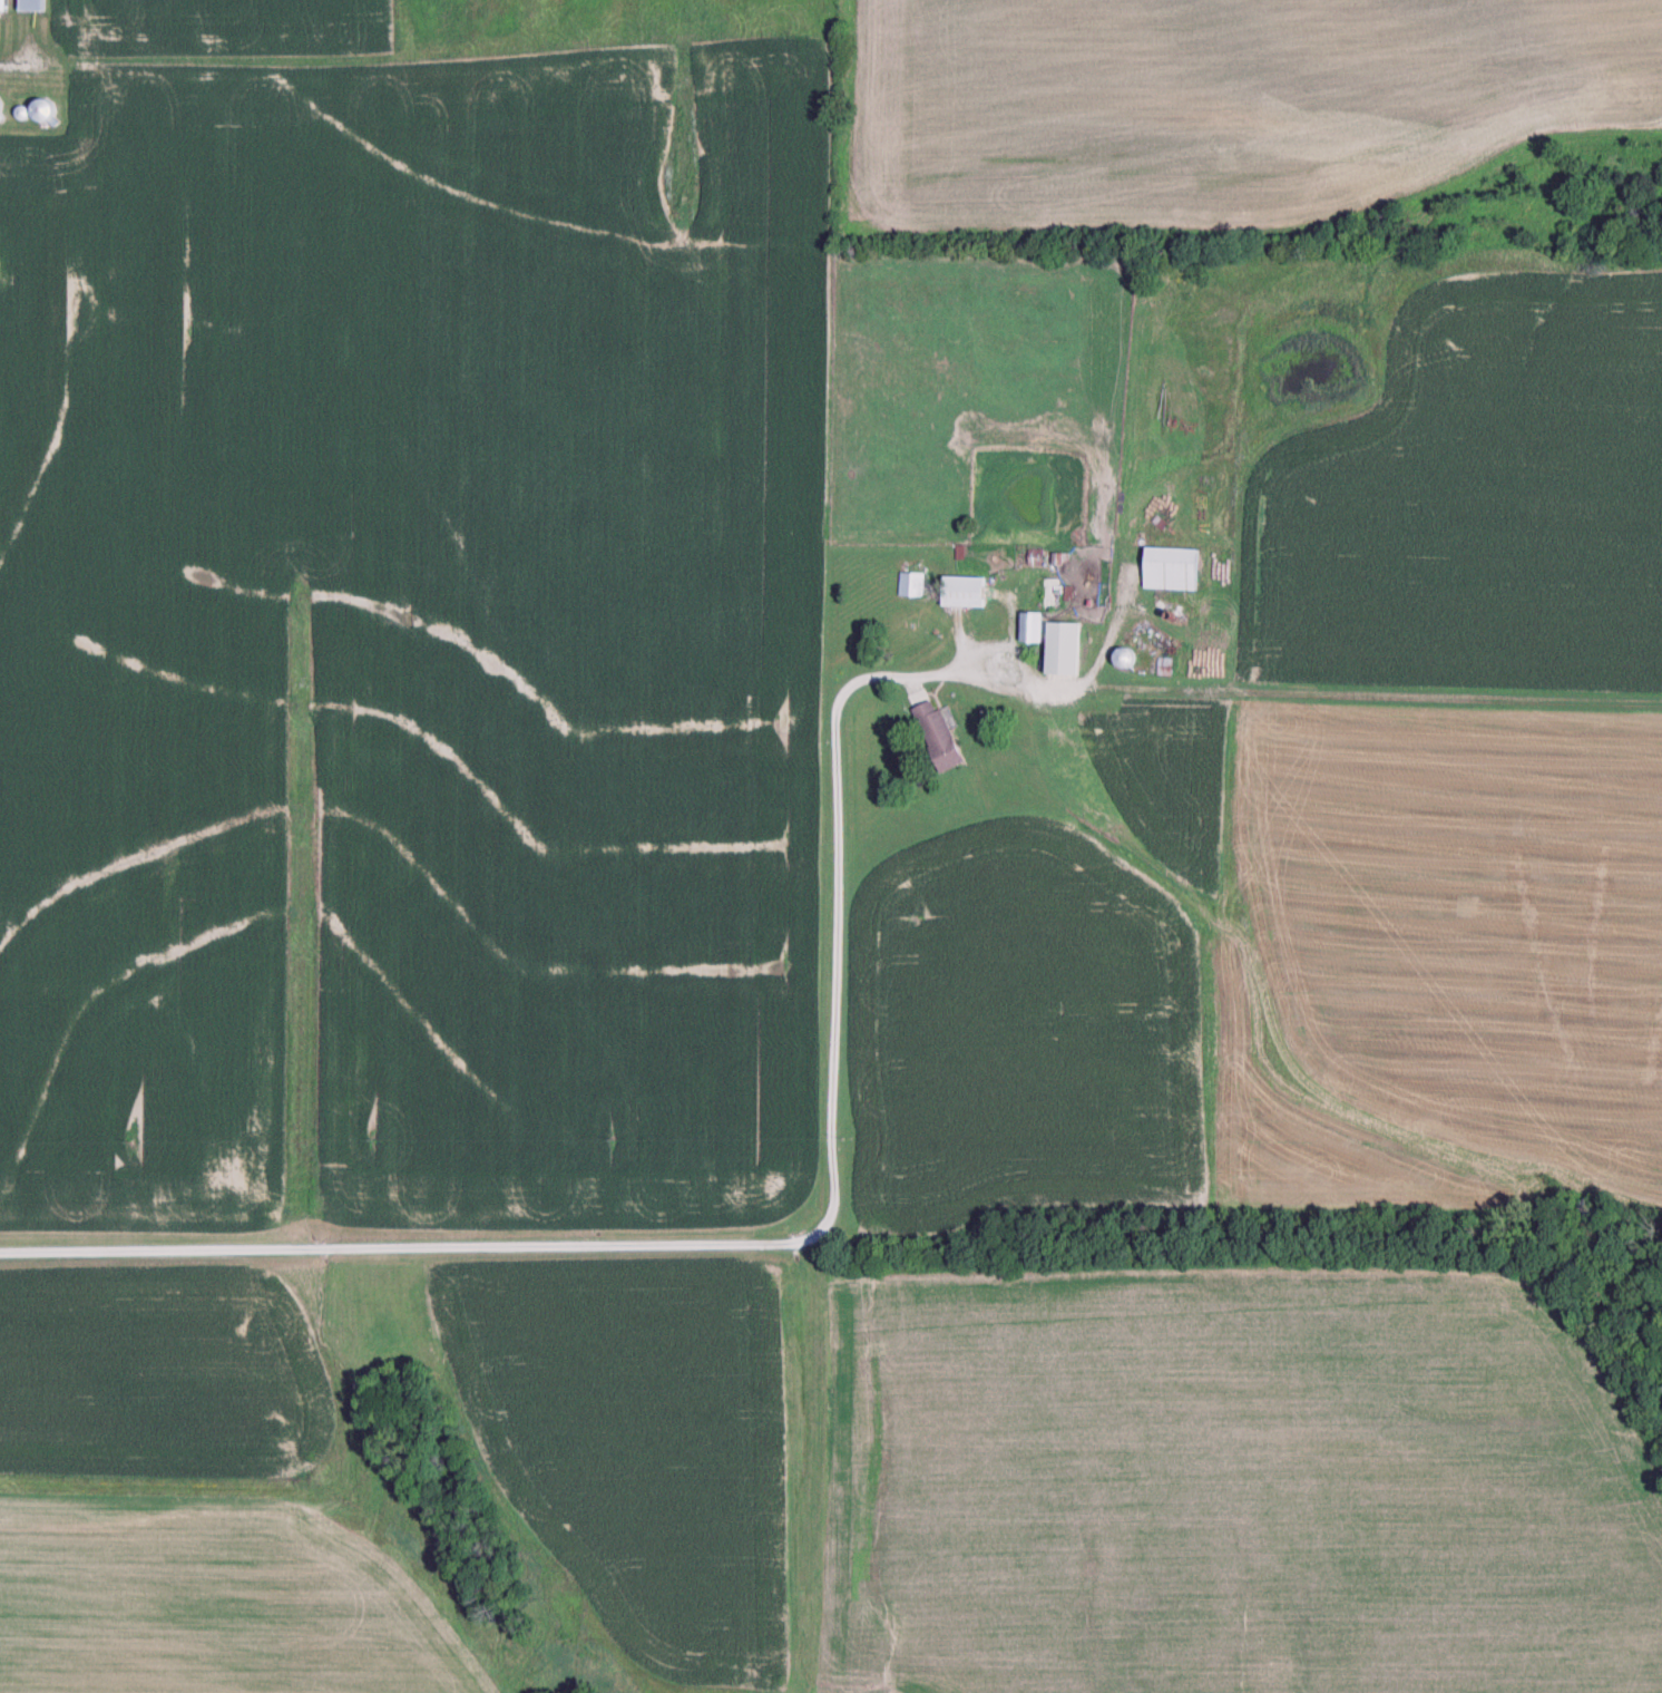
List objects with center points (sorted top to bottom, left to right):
building: (3, 7)
building: (32, 7)
road: (16, 64)
building: (0, 111)
building: (43, 114)
building: (1171, 572)
building: (910, 587)
building: (964, 595)
building: (1030, 631)
road: (1102, 645)
building: (1124, 662)
building: (1164, 670)
building: (1000, 673)
building: (938, 738)
road: (792, 1245)

